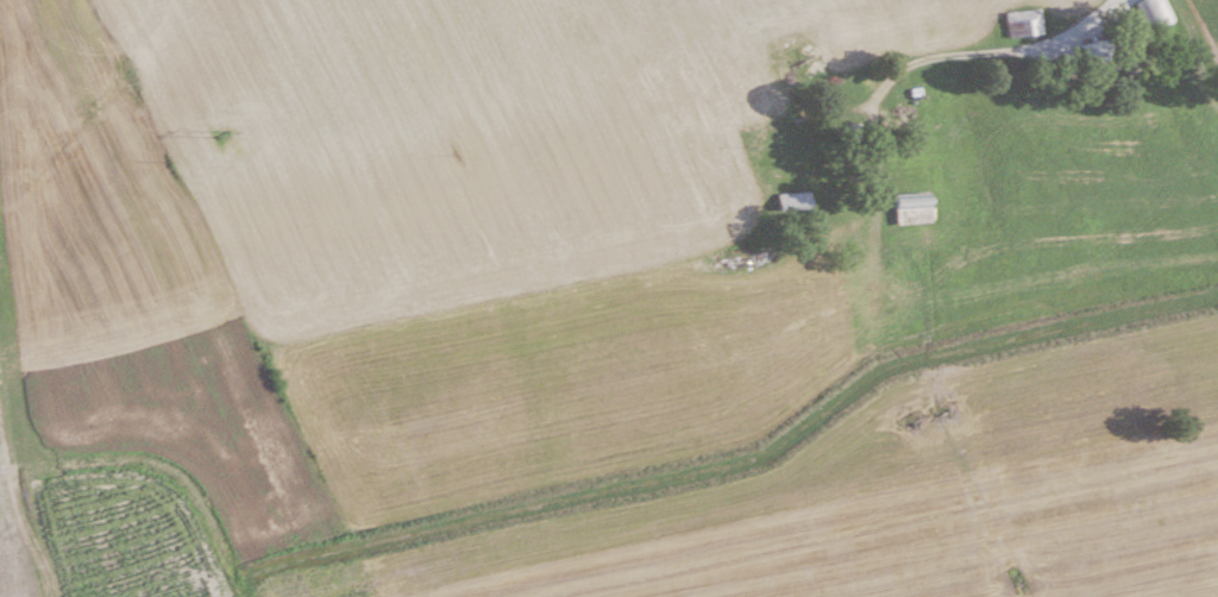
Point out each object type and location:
building: (1154, 13)
building: (1023, 21)
building: (1100, 51)
road: (994, 52)
building: (839, 56)
building: (853, 134)
building: (796, 201)
building: (915, 208)

